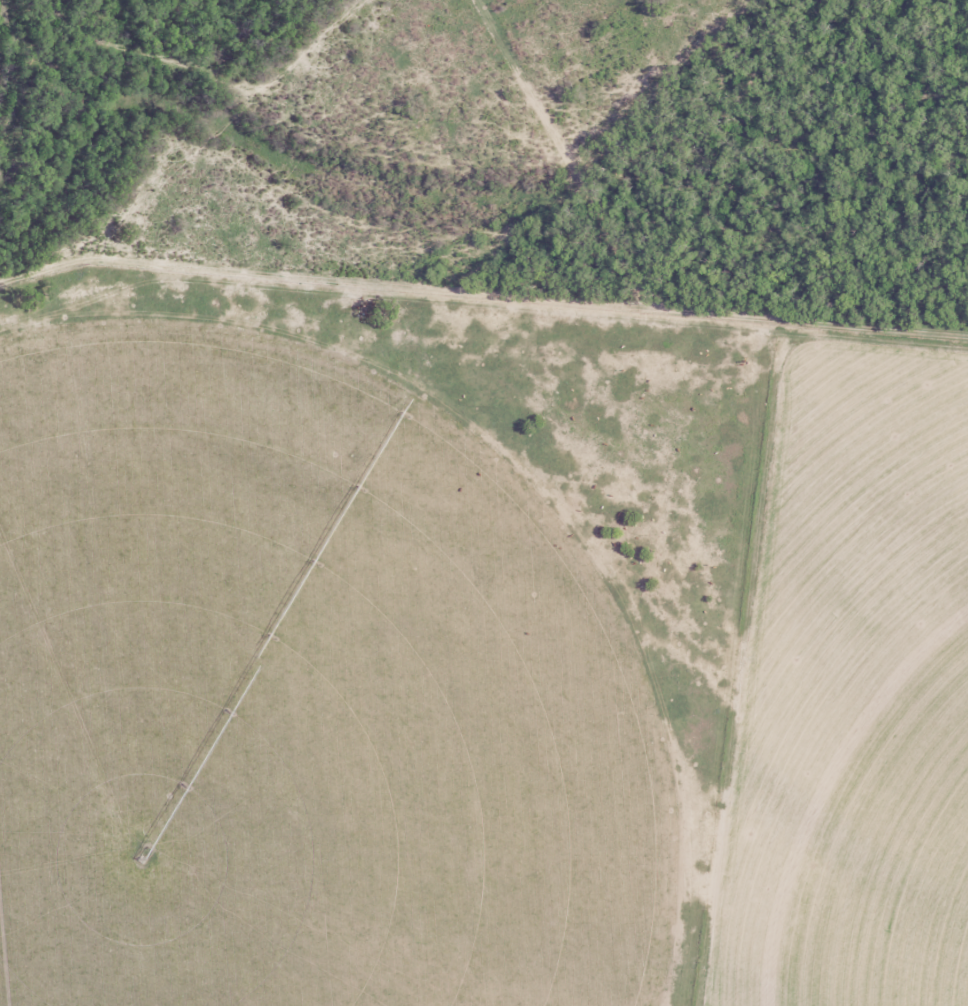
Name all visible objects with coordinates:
road: (483, 343)

